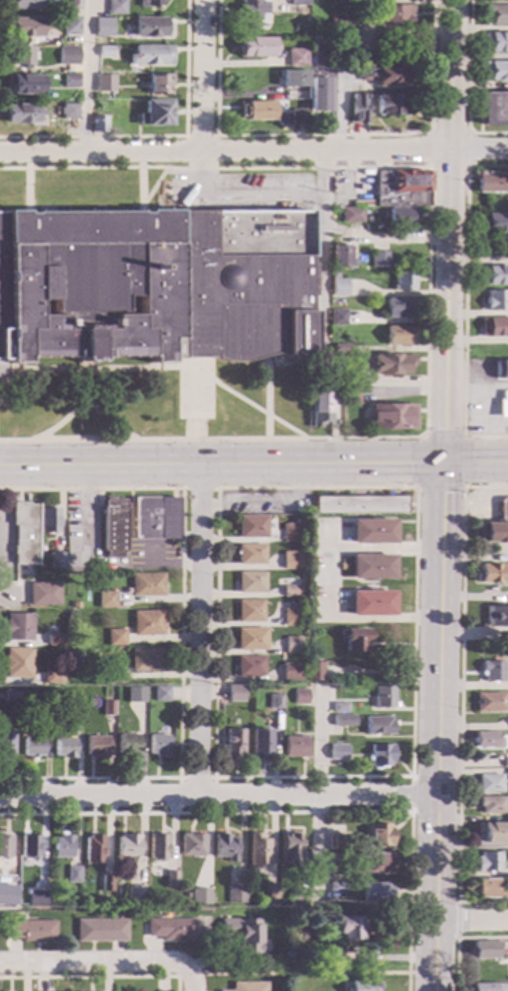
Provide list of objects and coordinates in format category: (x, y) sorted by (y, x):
building: (496, 0)
building: (298, 2)
building: (341, 2)
building: (149, 3)
building: (23, 4)
building: (74, 5)
building: (114, 7)
building: (251, 10)
building: (496, 14)
building: (332, 16)
building: (393, 16)
building: (348, 18)
building: (102, 24)
building: (70, 27)
building: (153, 27)
building: (22, 28)
building: (347, 31)
building: (496, 42)
building: (345, 44)
building: (256, 47)
building: (105, 51)
building: (67, 55)
building: (151, 55)
building: (18, 56)
building: (300, 60)
building: (117, 67)
building: (494, 71)
building: (384, 75)
road: (82, 77)
road: (203, 77)
building: (293, 78)
building: (101, 80)
building: (69, 81)
building: (159, 84)
building: (24, 85)
road: (469, 85)
building: (317, 94)
building: (389, 105)
building: (358, 108)
road: (333, 109)
building: (494, 109)
building: (255, 111)
building: (67, 112)
building: (21, 113)
building: (154, 113)
building: (298, 116)
building: (98, 124)
road: (467, 133)
road: (320, 136)
road: (161, 137)
road: (200, 137)
road: (254, 153)
road: (28, 176)
building: (491, 182)
road: (153, 187)
building: (401, 189)
road: (141, 190)
parking lot: (241, 192)
road: (239, 197)
road: (28, 200)
building: (351, 215)
building: (399, 216)
building: (494, 222)
road: (447, 233)
road: (382, 237)
road: (319, 252)
building: (340, 256)
building: (379, 259)
building: (494, 275)
building: (403, 280)
building: (155, 285)
building: (338, 286)
road: (429, 300)
building: (497, 301)
road: (465, 304)
building: (398, 308)
building: (338, 317)
building: (494, 327)
building: (399, 335)
building: (340, 349)
building: (389, 365)
road: (81, 370)
building: (500, 371)
building: (349, 375)
building: (331, 378)
road: (85, 383)
building: (350, 394)
road: (235, 395)
road: (84, 397)
road: (267, 397)
road: (195, 398)
building: (502, 403)
building: (320, 408)
building: (393, 417)
road: (474, 466)
traffic signals: (442, 467)
road: (220, 468)
road: (420, 487)
road: (201, 490)
building: (360, 505)
road: (270, 507)
building: (503, 509)
building: (156, 518)
road: (86, 519)
building: (49, 520)
building: (251, 526)
building: (113, 527)
building: (371, 531)
building: (24, 532)
building: (291, 532)
building: (493, 532)
building: (250, 554)
building: (57, 560)
building: (290, 560)
road: (166, 565)
building: (370, 566)
building: (341, 567)
building: (489, 575)
building: (250, 582)
road: (327, 583)
building: (145, 585)
building: (290, 591)
building: (44, 594)
building: (105, 600)
building: (370, 603)
building: (74, 605)
building: (249, 610)
building: (496, 616)
building: (290, 617)
building: (147, 623)
building: (19, 627)
road: (199, 631)
road: (181, 632)
building: (114, 637)
building: (55, 639)
building: (250, 639)
building: (354, 640)
building: (291, 644)
building: (145, 660)
building: (17, 663)
building: (248, 666)
building: (290, 671)
building: (312, 671)
building: (491, 671)
building: (113, 675)
building: (53, 677)
building: (234, 693)
building: (160, 694)
building: (134, 695)
building: (11, 696)
building: (299, 696)
building: (382, 697)
road: (460, 697)
building: (272, 701)
building: (489, 702)
building: (338, 707)
building: (44, 708)
building: (107, 708)
building: (343, 721)
building: (377, 725)
road: (437, 729)
building: (489, 740)
building: (233, 742)
building: (259, 742)
building: (6, 744)
building: (127, 745)
building: (158, 746)
building: (294, 746)
building: (32, 747)
building: (64, 747)
building: (96, 747)
building: (337, 752)
building: (380, 754)
building: (505, 763)
building: (507, 776)
road: (196, 779)
road: (215, 779)
building: (488, 783)
road: (319, 792)
road: (218, 795)
road: (411, 795)
building: (490, 805)
road: (294, 813)
building: (491, 833)
building: (378, 835)
building: (334, 842)
building: (191, 845)
building: (29, 846)
building: (62, 846)
building: (128, 846)
building: (157, 846)
building: (5, 847)
building: (224, 847)
building: (94, 849)
building: (289, 849)
building: (257, 850)
building: (336, 861)
building: (375, 862)
building: (486, 862)
building: (73, 874)
building: (171, 879)
building: (106, 883)
building: (337, 887)
building: (487, 889)
building: (272, 892)
building: (375, 892)
building: (135, 895)
building: (236, 895)
building: (297, 896)
building: (200, 897)
building: (37, 898)
building: (4, 902)
building: (273, 903)
road: (457, 920)
road: (470, 923)
building: (348, 928)
building: (170, 930)
building: (30, 931)
building: (99, 931)
building: (242, 934)
building: (298, 936)
road: (456, 939)
building: (482, 950)
building: (332, 954)
road: (95, 964)
road: (306, 974)
road: (190, 976)
road: (95, 978)
road: (193, 980)
building: (248, 986)
building: (362, 986)
building: (485, 987)

